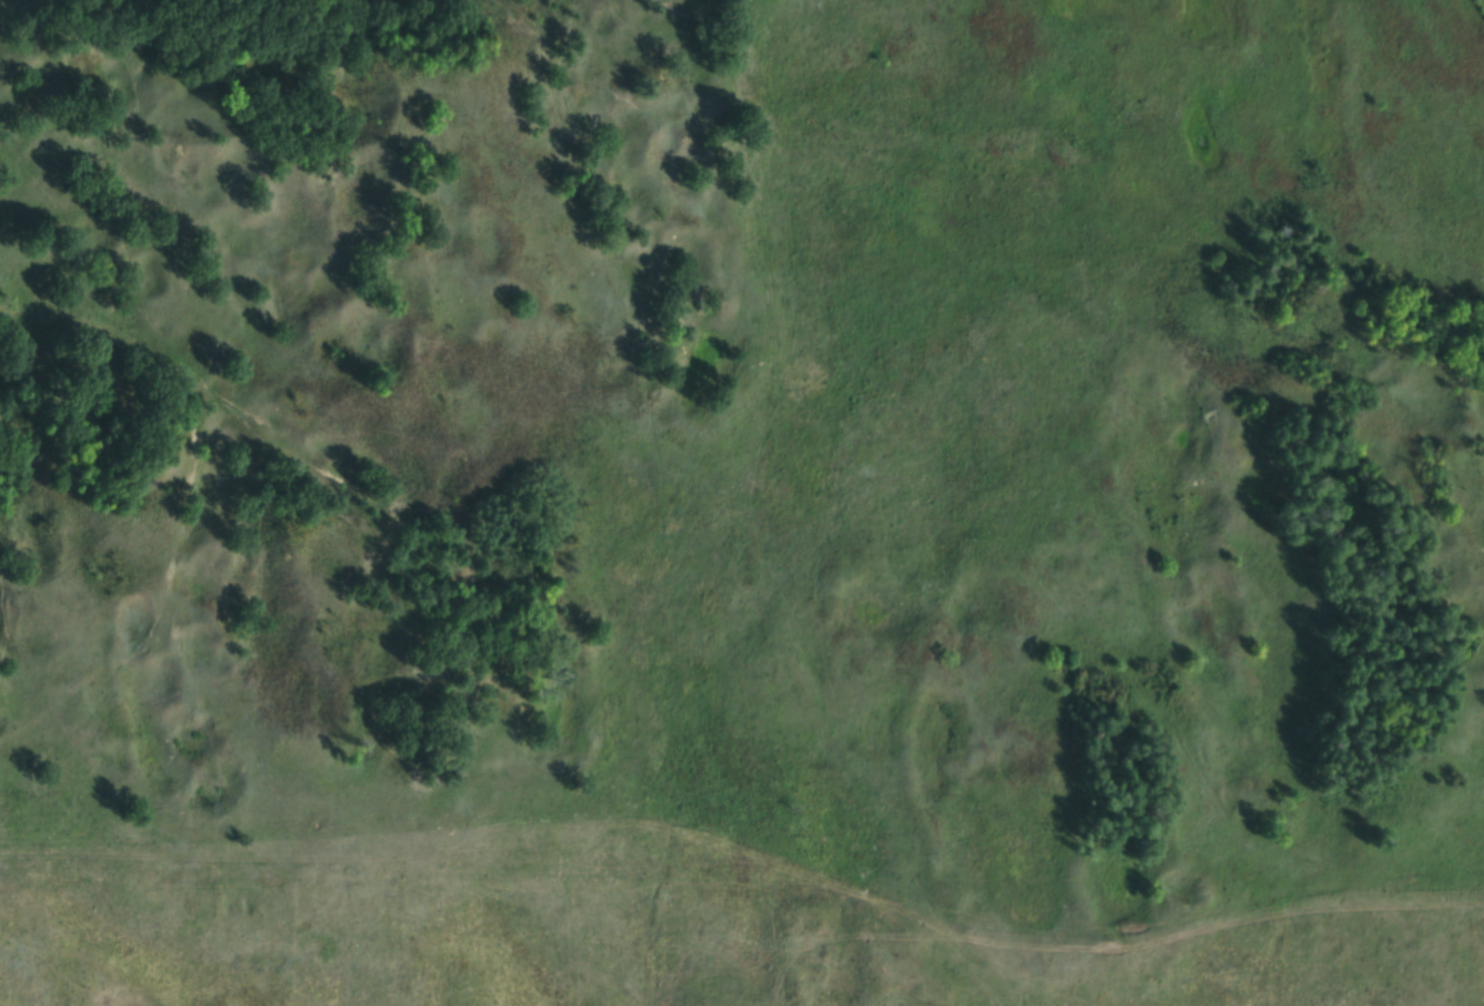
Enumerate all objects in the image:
road: (88, 8)
road: (711, 23)

